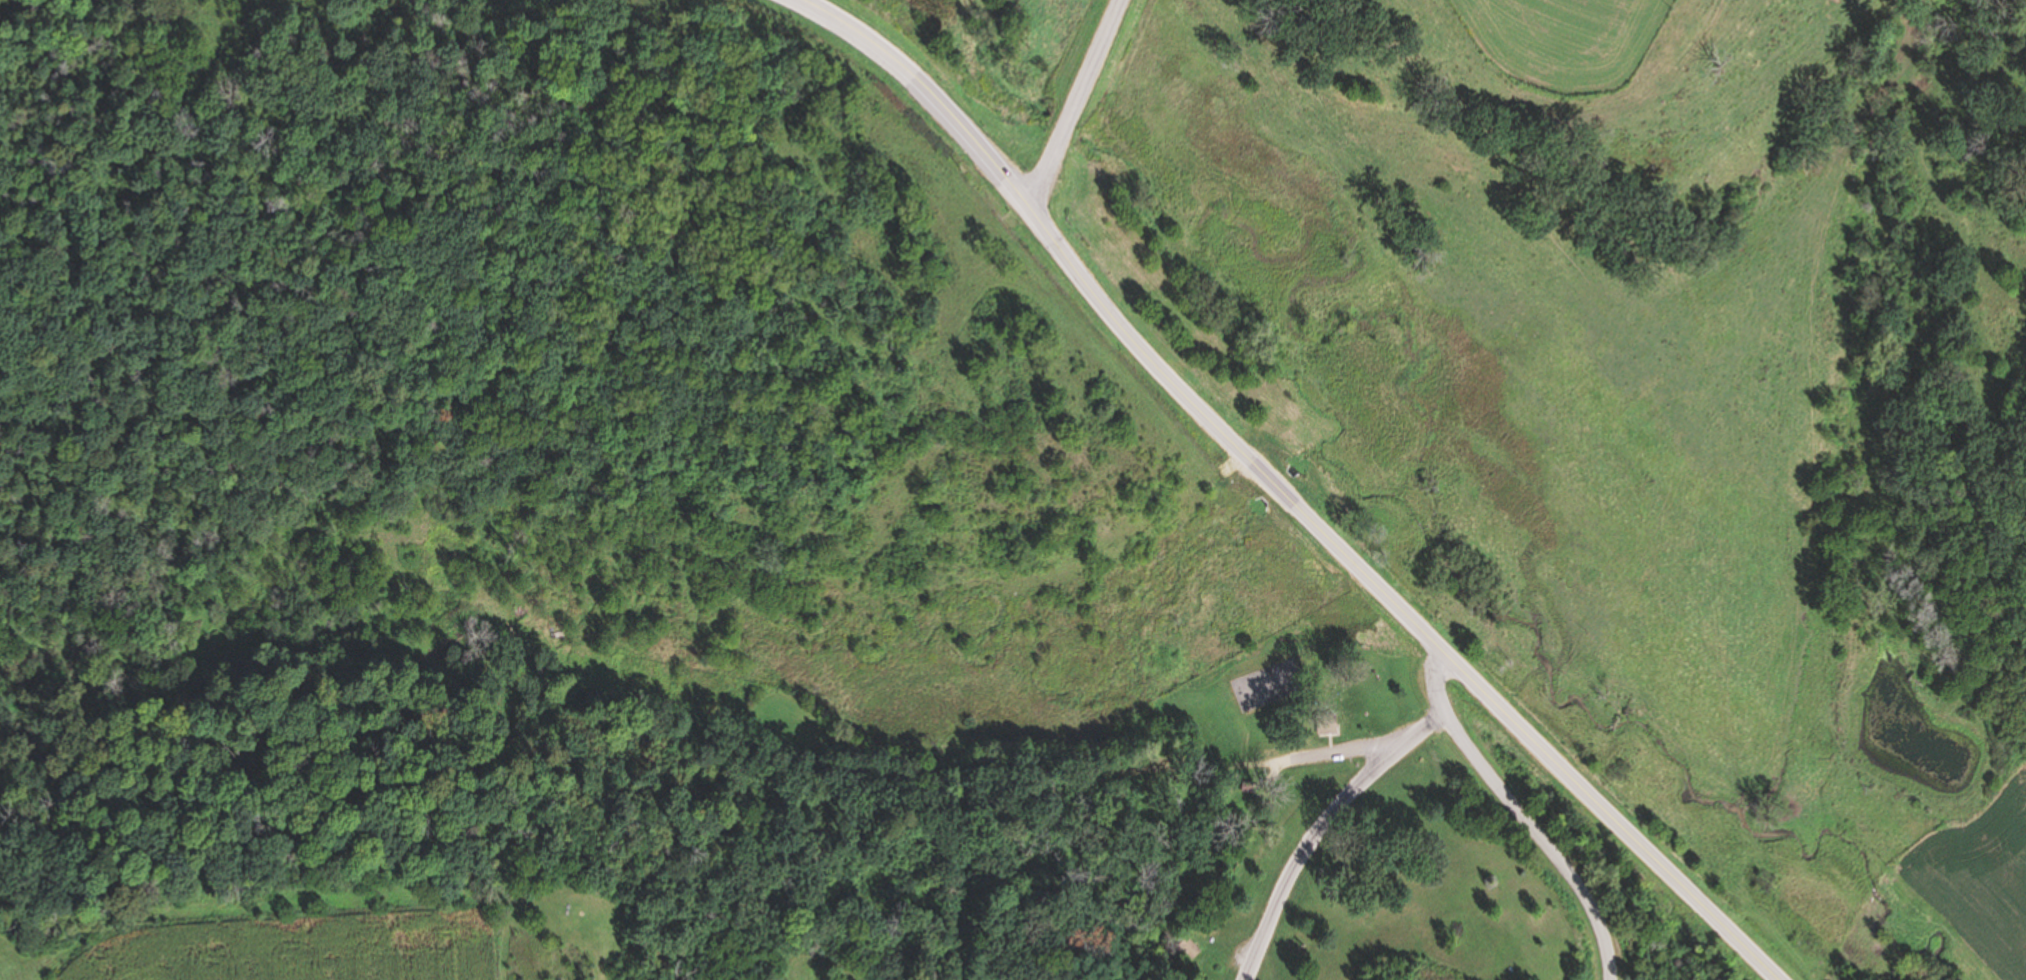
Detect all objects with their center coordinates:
road: (930, 91)
road: (1075, 104)
road: (1151, 361)
building: (1326, 724)
road: (1534, 740)
road: (1318, 755)
road: (1029, 768)
road: (1524, 816)
road: (1323, 828)
building: (1189, 949)
road: (603, 963)

